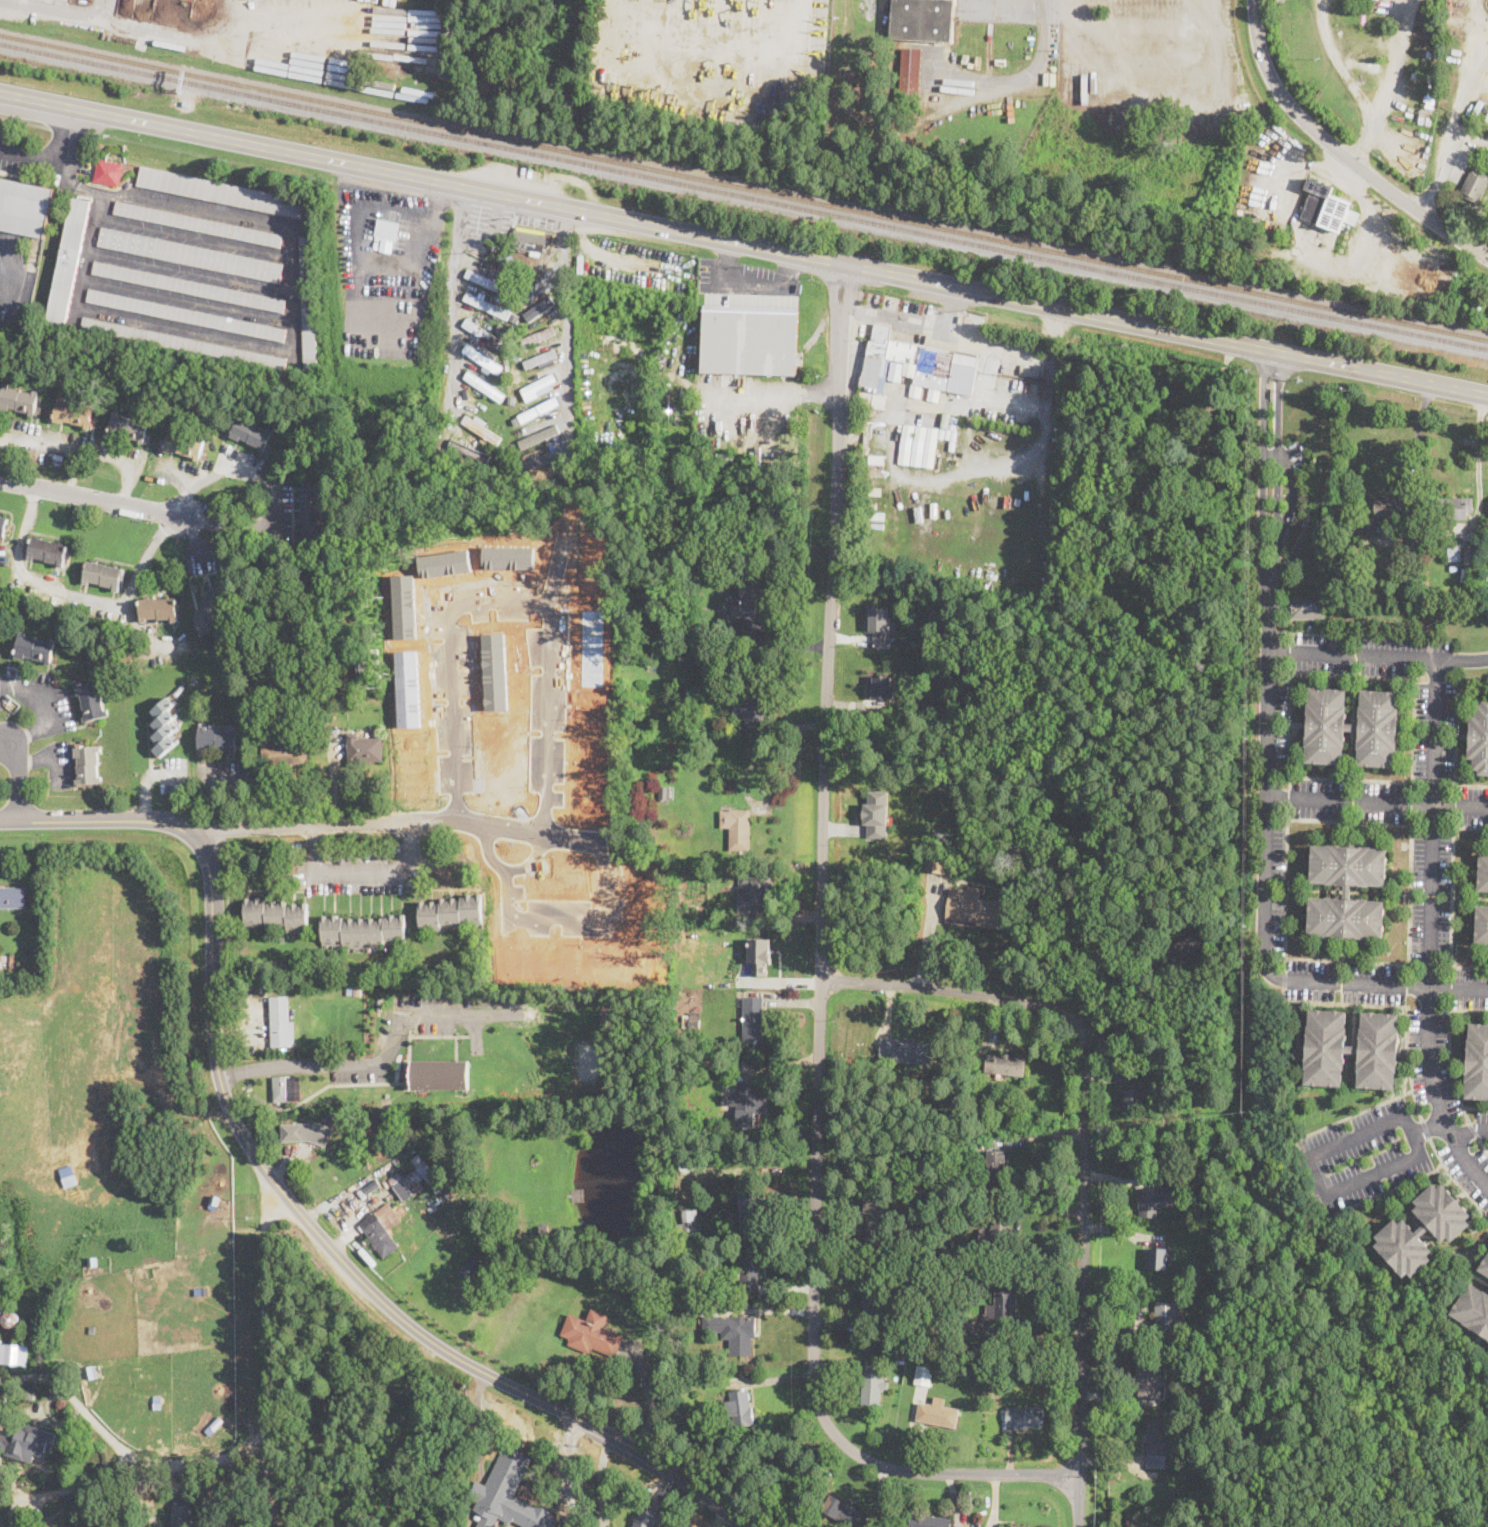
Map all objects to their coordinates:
building: (82, 2)
road: (102, 9)
road: (92, 17)
building: (922, 20)
road: (1127, 22)
road: (220, 31)
road: (1071, 31)
parking lot: (1148, 52)
building: (1432, 54)
road: (1154, 58)
road: (1397, 60)
road: (1337, 63)
building: (910, 76)
road: (1019, 76)
building: (1424, 76)
building: (1431, 96)
road: (1456, 108)
building: (1425, 118)
road: (25, 123)
road: (1363, 138)
road: (69, 139)
road: (1340, 150)
parking lot: (8, 151)
road: (32, 159)
building: (108, 172)
building: (1474, 185)
railway: (744, 186)
building: (224, 193)
railway: (744, 195)
building: (24, 207)
building: (1328, 208)
building: (198, 223)
building: (388, 228)
building: (528, 238)
road: (744, 245)
building: (190, 255)
building: (515, 257)
road: (1332, 257)
building: (69, 260)
road: (8, 262)
road: (367, 263)
building: (502, 264)
road: (542, 270)
parking lot: (386, 271)
parking lot: (12, 272)
building: (479, 276)
parking lot: (746, 284)
road: (749, 284)
building: (188, 286)
road: (455, 294)
road: (5, 299)
building: (308, 303)
building: (480, 304)
road: (564, 304)
building: (539, 308)
road: (950, 310)
building: (1476, 311)
building: (186, 315)
building: (514, 317)
building: (499, 328)
building: (479, 329)
building: (543, 332)
building: (749, 340)
road: (970, 340)
building: (185, 344)
building: (517, 357)
building: (546, 357)
building: (488, 359)
building: (916, 365)
building: (545, 383)
building: (484, 387)
road: (775, 392)
building: (933, 394)
building: (870, 395)
building: (18, 399)
building: (523, 404)
building: (541, 409)
building: (73, 412)
building: (944, 420)
building: (952, 423)
building: (128, 427)
building: (480, 431)
building: (251, 432)
building: (542, 434)
building: (185, 444)
building: (917, 445)
road: (58, 446)
road: (1419, 447)
building: (437, 450)
building: (469, 450)
building: (542, 453)
building: (501, 454)
building: (446, 458)
road: (1479, 459)
road: (116, 460)
road: (3, 462)
building: (516, 463)
building: (551, 471)
building: (1176, 472)
road: (273, 492)
building: (1175, 498)
road: (89, 499)
building: (1452, 507)
building: (1382, 510)
building: (313, 513)
building: (3, 525)
building: (668, 535)
building: (1454, 550)
building: (48, 551)
building: (1486, 571)
building: (104, 575)
road: (78, 596)
building: (677, 596)
building: (748, 602)
building: (1307, 606)
building: (214, 607)
building: (159, 609)
building: (685, 609)
building: (719, 626)
building: (880, 626)
building: (35, 648)
building: (295, 649)
building: (632, 653)
road: (1379, 655)
road: (450, 663)
building: (368, 669)
building: (258, 672)
building: (332, 672)
road: (548, 682)
building: (884, 686)
building: (249, 693)
building: (7, 698)
building: (92, 700)
building: (752, 708)
road: (43, 713)
building: (1351, 726)
building: (164, 727)
building: (689, 731)
building: (378, 734)
building: (1479, 737)
building: (217, 740)
building: (360, 748)
building: (284, 753)
road: (1454, 754)
building: (88, 764)
road: (1270, 772)
road: (147, 777)
road: (20, 780)
building: (664, 793)
road: (1379, 802)
building: (877, 813)
road: (394, 822)
road: (1404, 823)
building: (737, 828)
building: (1003, 862)
building: (935, 863)
building: (1483, 872)
road: (357, 874)
road: (228, 879)
building: (755, 891)
building: (1347, 891)
building: (12, 897)
road: (1451, 897)
building: (973, 908)
building: (451, 911)
building: (275, 914)
road: (547, 916)
building: (1150, 923)
building: (1481, 924)
road: (1429, 928)
building: (364, 930)
building: (1187, 946)
building: (760, 955)
building: (3, 959)
building: (11, 962)
road: (819, 979)
road: (1284, 980)
building: (354, 990)
road: (949, 990)
building: (378, 1003)
road: (1398, 1005)
road: (1135, 1017)
building: (753, 1020)
building: (281, 1022)
building: (694, 1024)
building: (1353, 1048)
building: (904, 1051)
road: (1448, 1051)
road: (380, 1056)
building: (1477, 1060)
building: (1005, 1065)
building: (440, 1074)
building: (282, 1085)
building: (1137, 1097)
building: (935, 1098)
building: (746, 1105)
building: (983, 1108)
road: (1354, 1114)
road: (1466, 1114)
building: (327, 1117)
building: (388, 1126)
road: (1425, 1129)
road: (1473, 1129)
road: (1470, 1132)
building: (306, 1133)
road: (1482, 1144)
road: (1310, 1159)
building: (996, 1168)
building: (421, 1176)
road: (1455, 1178)
road: (1385, 1191)
road: (282, 1192)
building: (214, 1199)
building: (1150, 1202)
building: (750, 1213)
building: (1202, 1218)
building: (876, 1219)
building: (690, 1225)
building: (384, 1228)
building: (543, 1228)
building: (1424, 1229)
building: (517, 1233)
building: (995, 1235)
building: (1158, 1259)
building: (92, 1261)
building: (475, 1265)
building: (1485, 1265)
building: (748, 1270)
road: (1083, 1271)
building: (205, 1290)
building: (938, 1291)
building: (873, 1304)
building: (1004, 1304)
road: (516, 1305)
building: (694, 1309)
building: (1474, 1309)
building: (1, 1317)
building: (1167, 1318)
building: (13, 1320)
building: (963, 1326)
building: (91, 1329)
building: (733, 1331)
building: (652, 1333)
building: (592, 1334)
building: (1213, 1342)
building: (902, 1348)
building: (936, 1352)
building: (945, 1352)
building: (14, 1354)
building: (916, 1355)
building: (923, 1358)
building: (900, 1359)
building: (92, 1371)
building: (663, 1372)
building: (675, 1373)
building: (923, 1376)
building: (1031, 1377)
building: (1146, 1379)
building: (872, 1385)
building: (28, 1395)
building: (157, 1398)
road: (650, 1398)
building: (1205, 1401)
road: (80, 1406)
building: (740, 1408)
building: (937, 1413)
building: (1025, 1417)
building: (215, 1424)
building: (1160, 1441)
building: (27, 1445)
road: (254, 1445)
building: (338, 1455)
building: (388, 1459)
road: (570, 1471)
road: (601, 1480)
building: (508, 1495)
building: (844, 1512)
building: (182, 1514)
building: (646, 1517)
building: (1206, 1519)
building: (928, 1521)
building: (1020, 1526)

